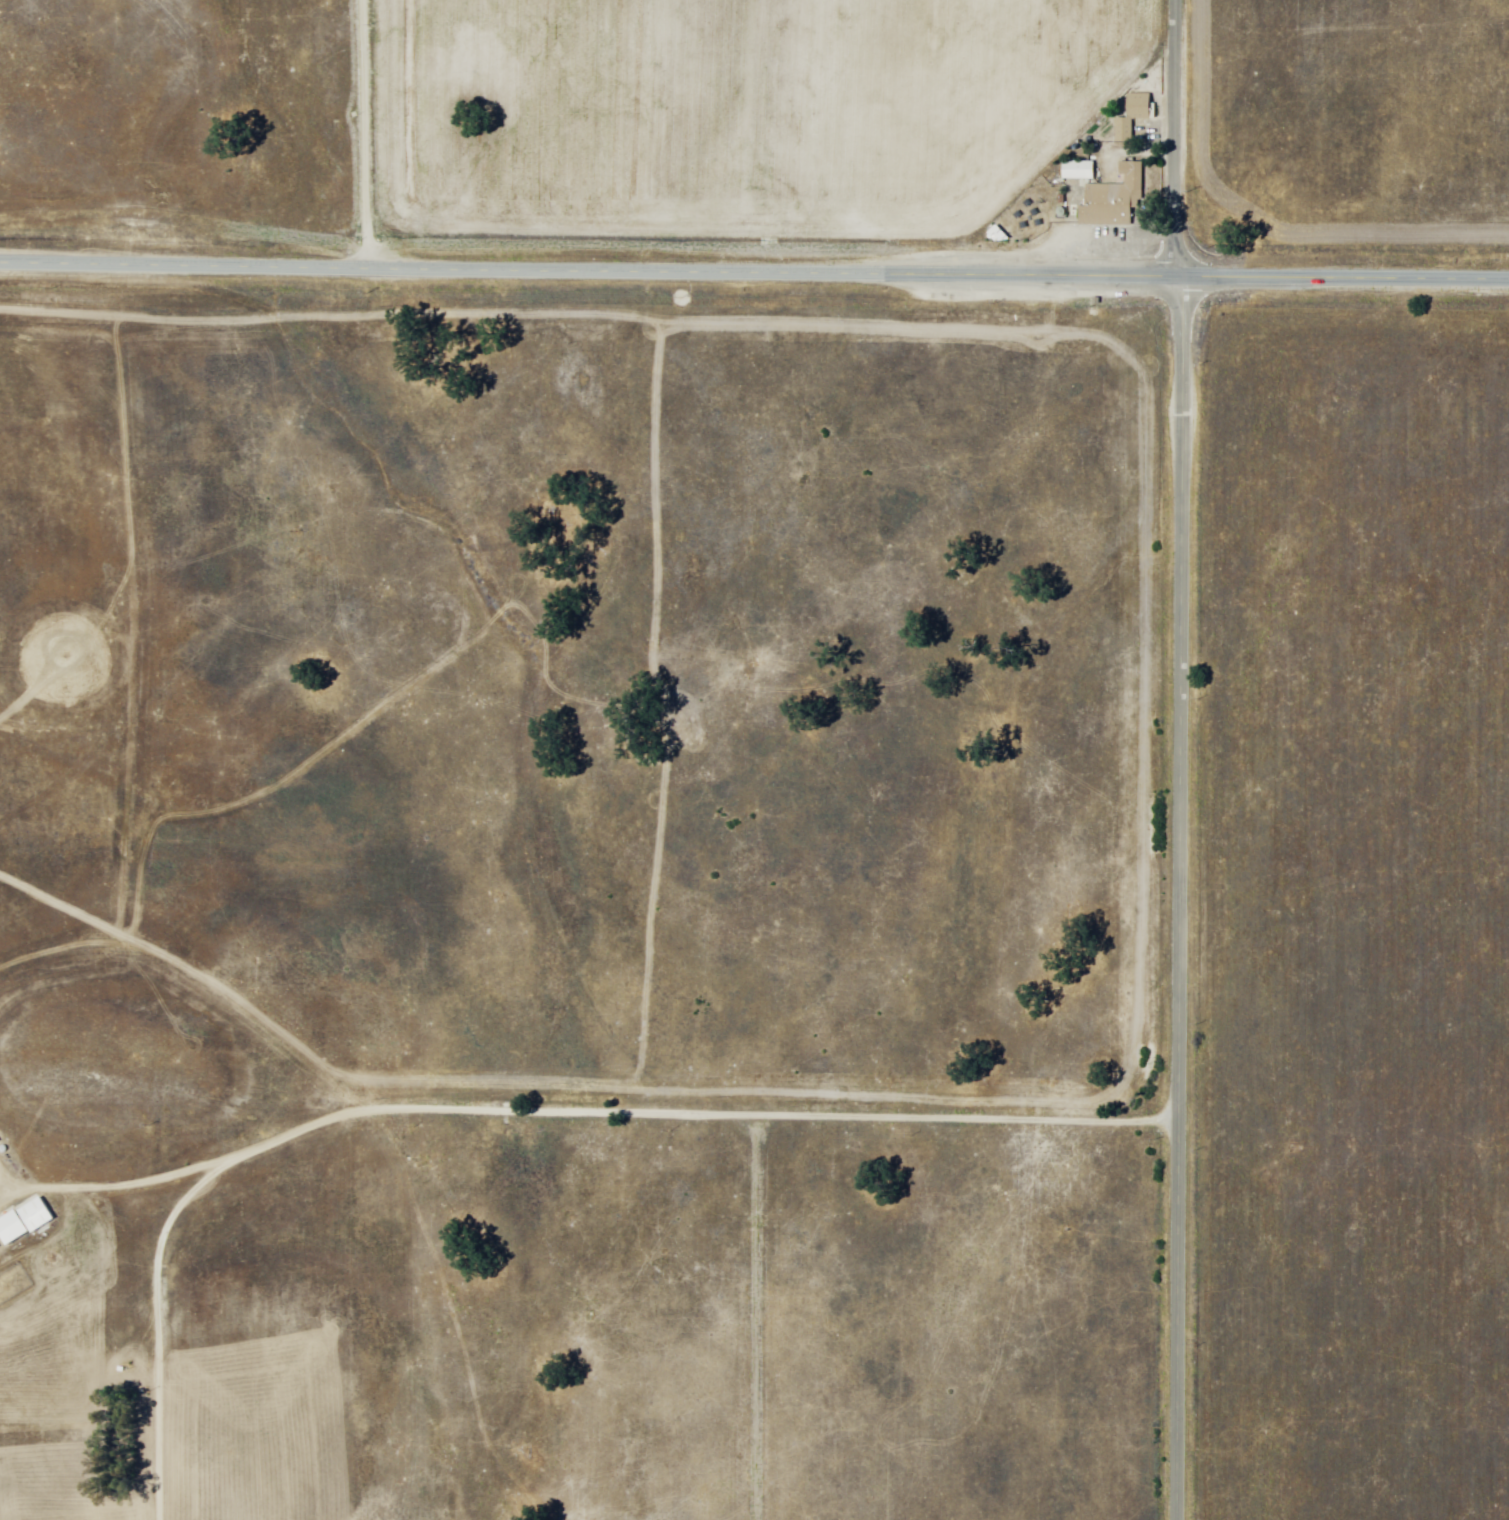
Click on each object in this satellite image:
building: (1125, 128)
road: (366, 133)
road: (1174, 139)
building: (1074, 168)
building: (1111, 199)
road: (589, 269)
road: (1344, 280)
road: (1176, 899)
road: (582, 1104)
building: (33, 1214)
building: (7, 1229)
road: (756, 1314)

